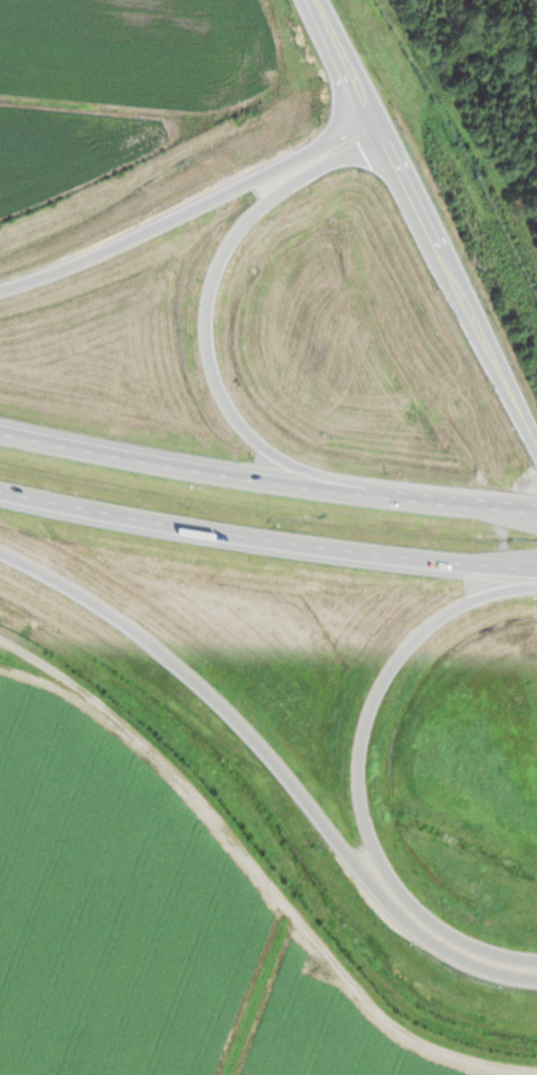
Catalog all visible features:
building: (485, 128)
road: (186, 212)
road: (421, 235)
road: (207, 350)
road: (267, 481)
road: (267, 538)
road: (276, 763)
road: (358, 771)

